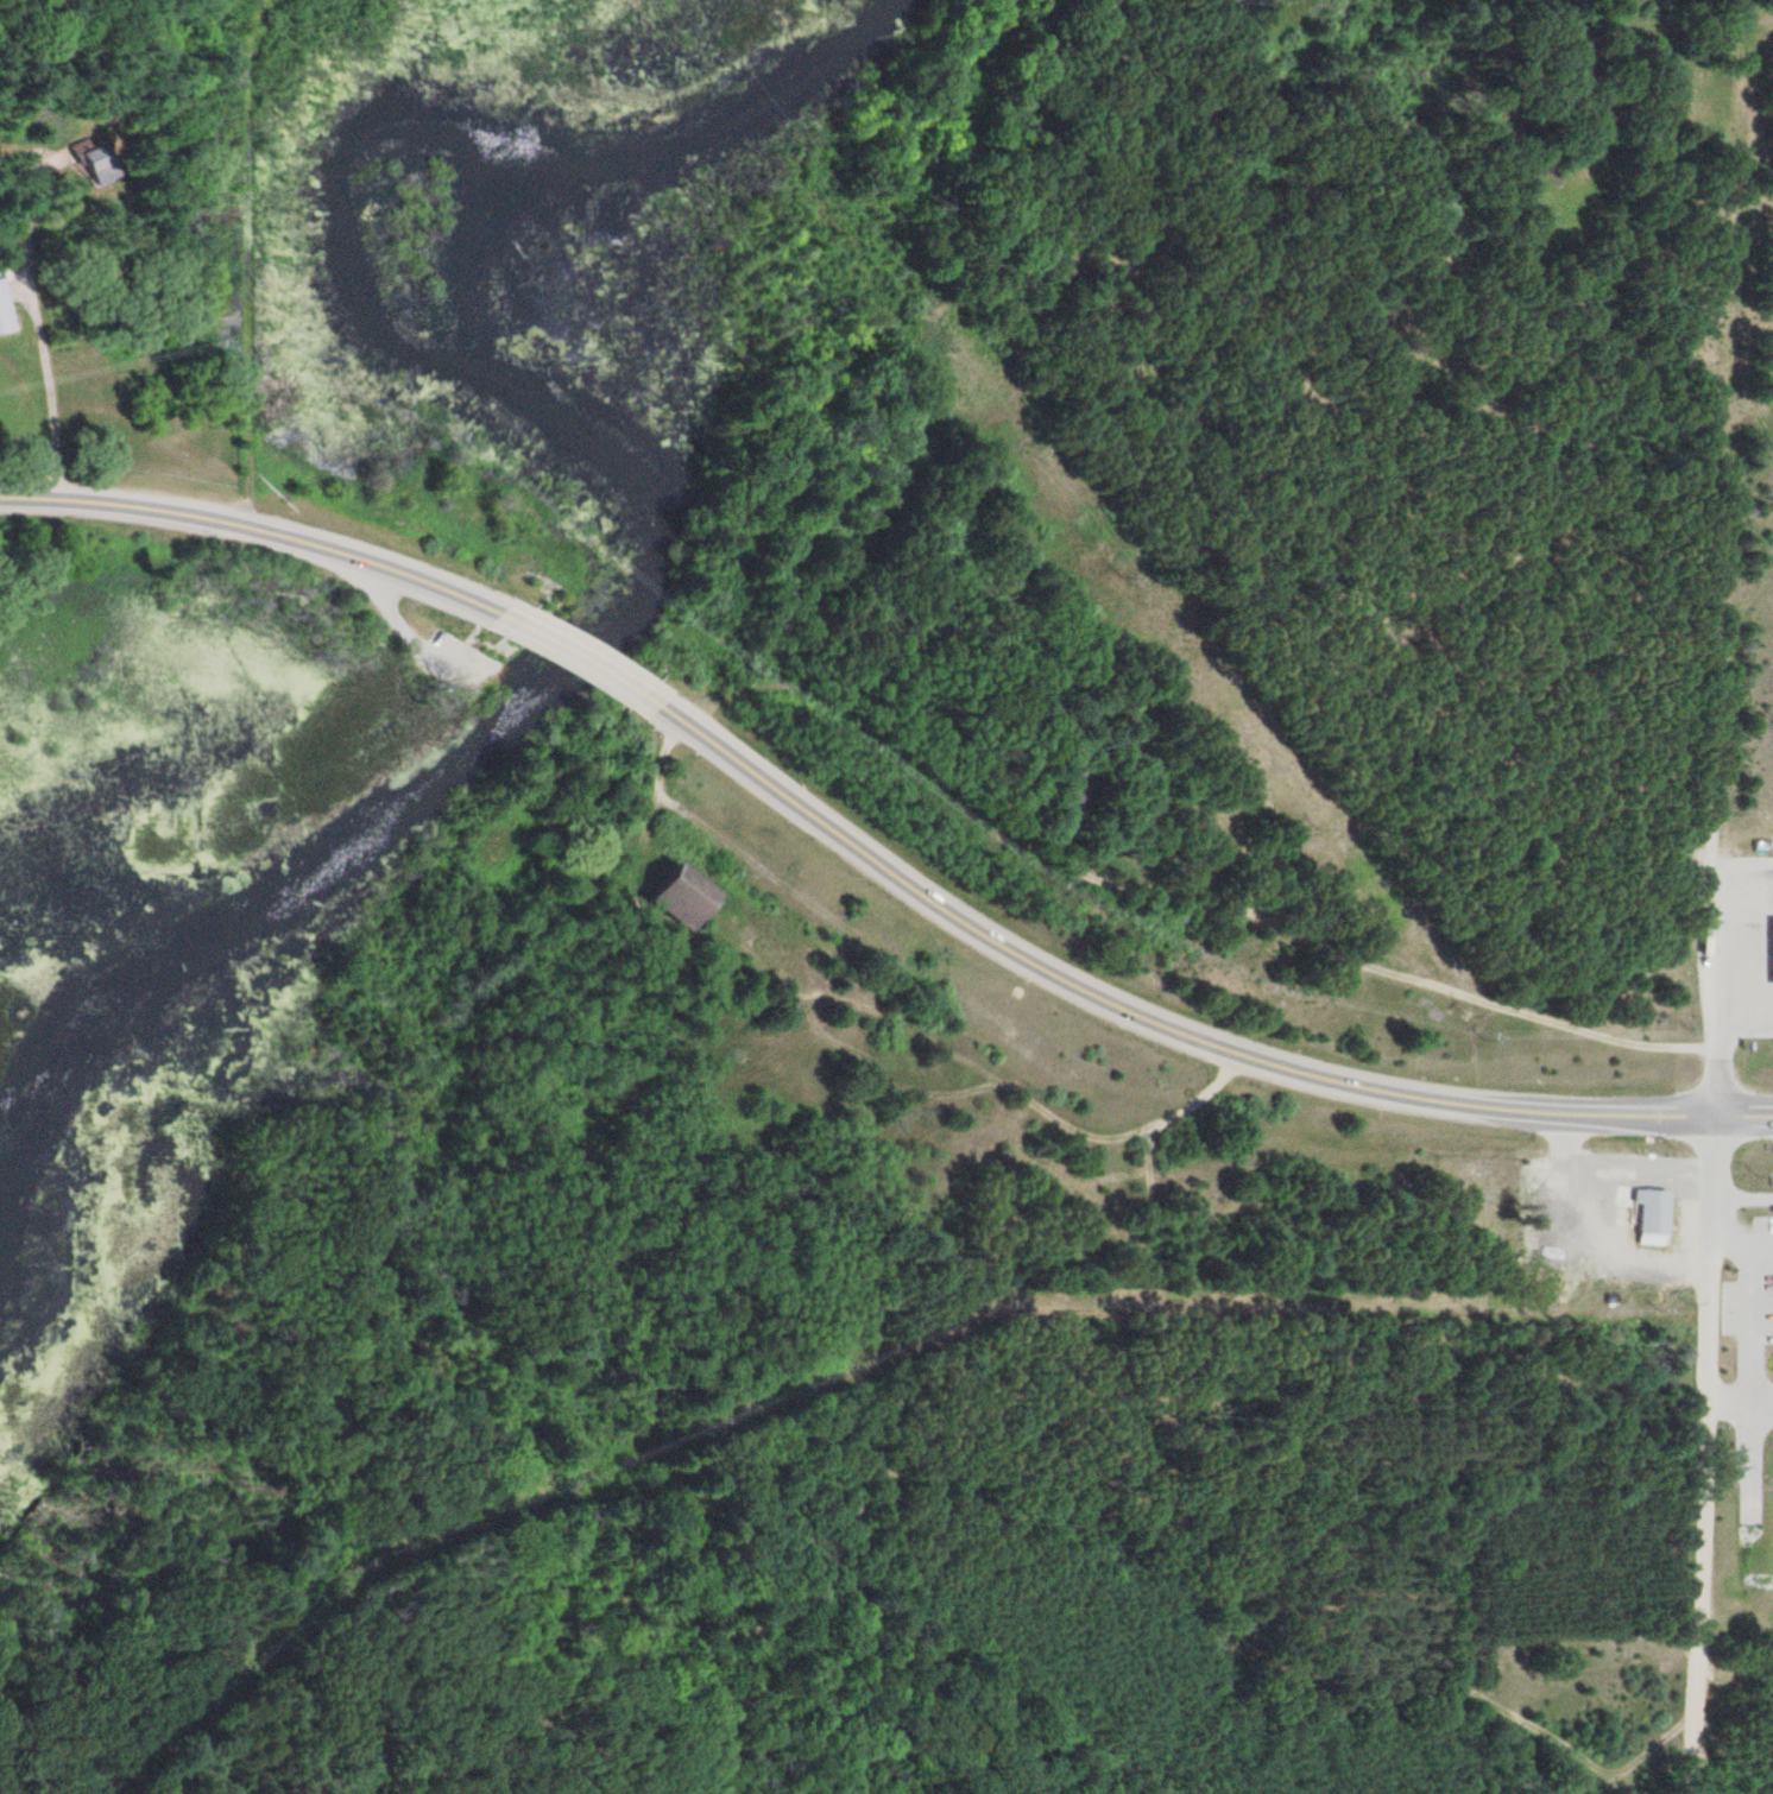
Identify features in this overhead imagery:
road: (1754, 37)
building: (92, 168)
building: (2, 317)
road: (1722, 436)
river: (627, 454)
road: (264, 533)
road: (399, 631)
road: (581, 664)
road: (1178, 874)
building: (677, 899)
building: (1769, 953)
road: (1712, 994)
road: (1168, 1027)
building: (1609, 1175)
road: (1712, 1196)
building: (1646, 1218)
building: (1552, 1249)
road: (1702, 1536)

